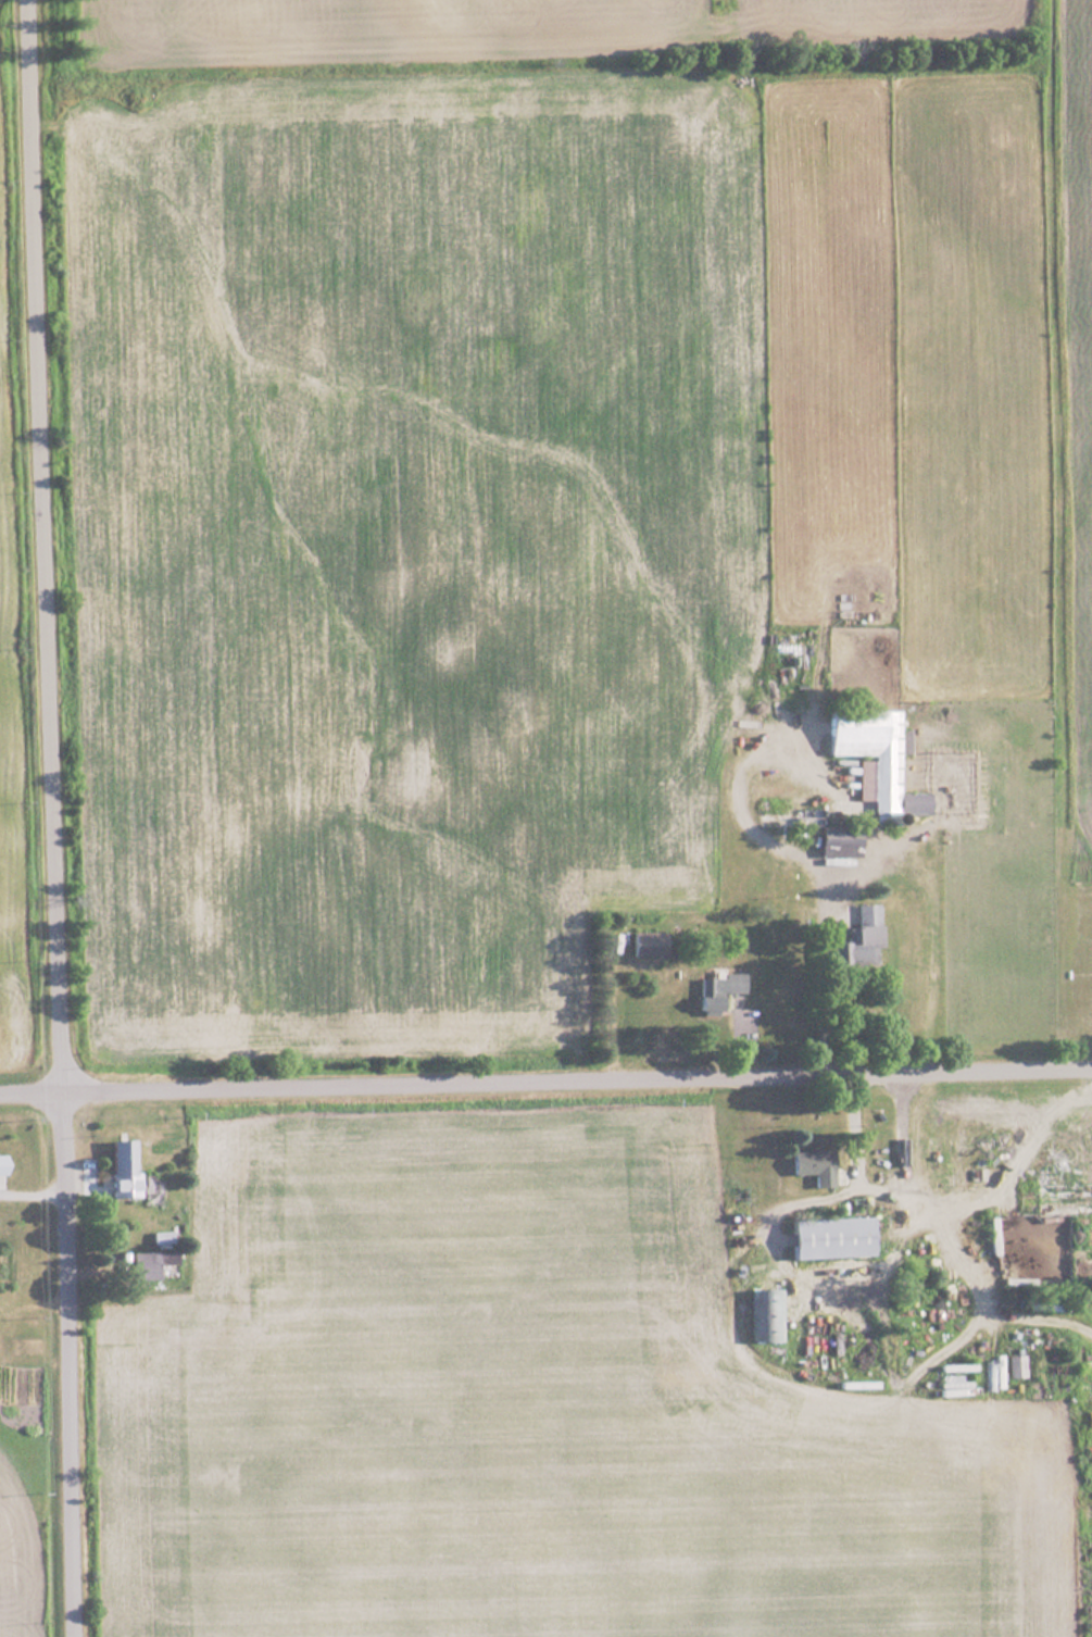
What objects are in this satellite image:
building: (871, 749)
road: (50, 817)
road: (821, 940)
building: (855, 940)
building: (644, 942)
building: (714, 990)
road: (545, 1079)
building: (114, 1157)
building: (0, 1163)
building: (809, 1164)
road: (878, 1191)
building: (1059, 1199)
building: (992, 1235)
building: (161, 1236)
building: (828, 1236)
building: (153, 1264)
building: (1041, 1307)

